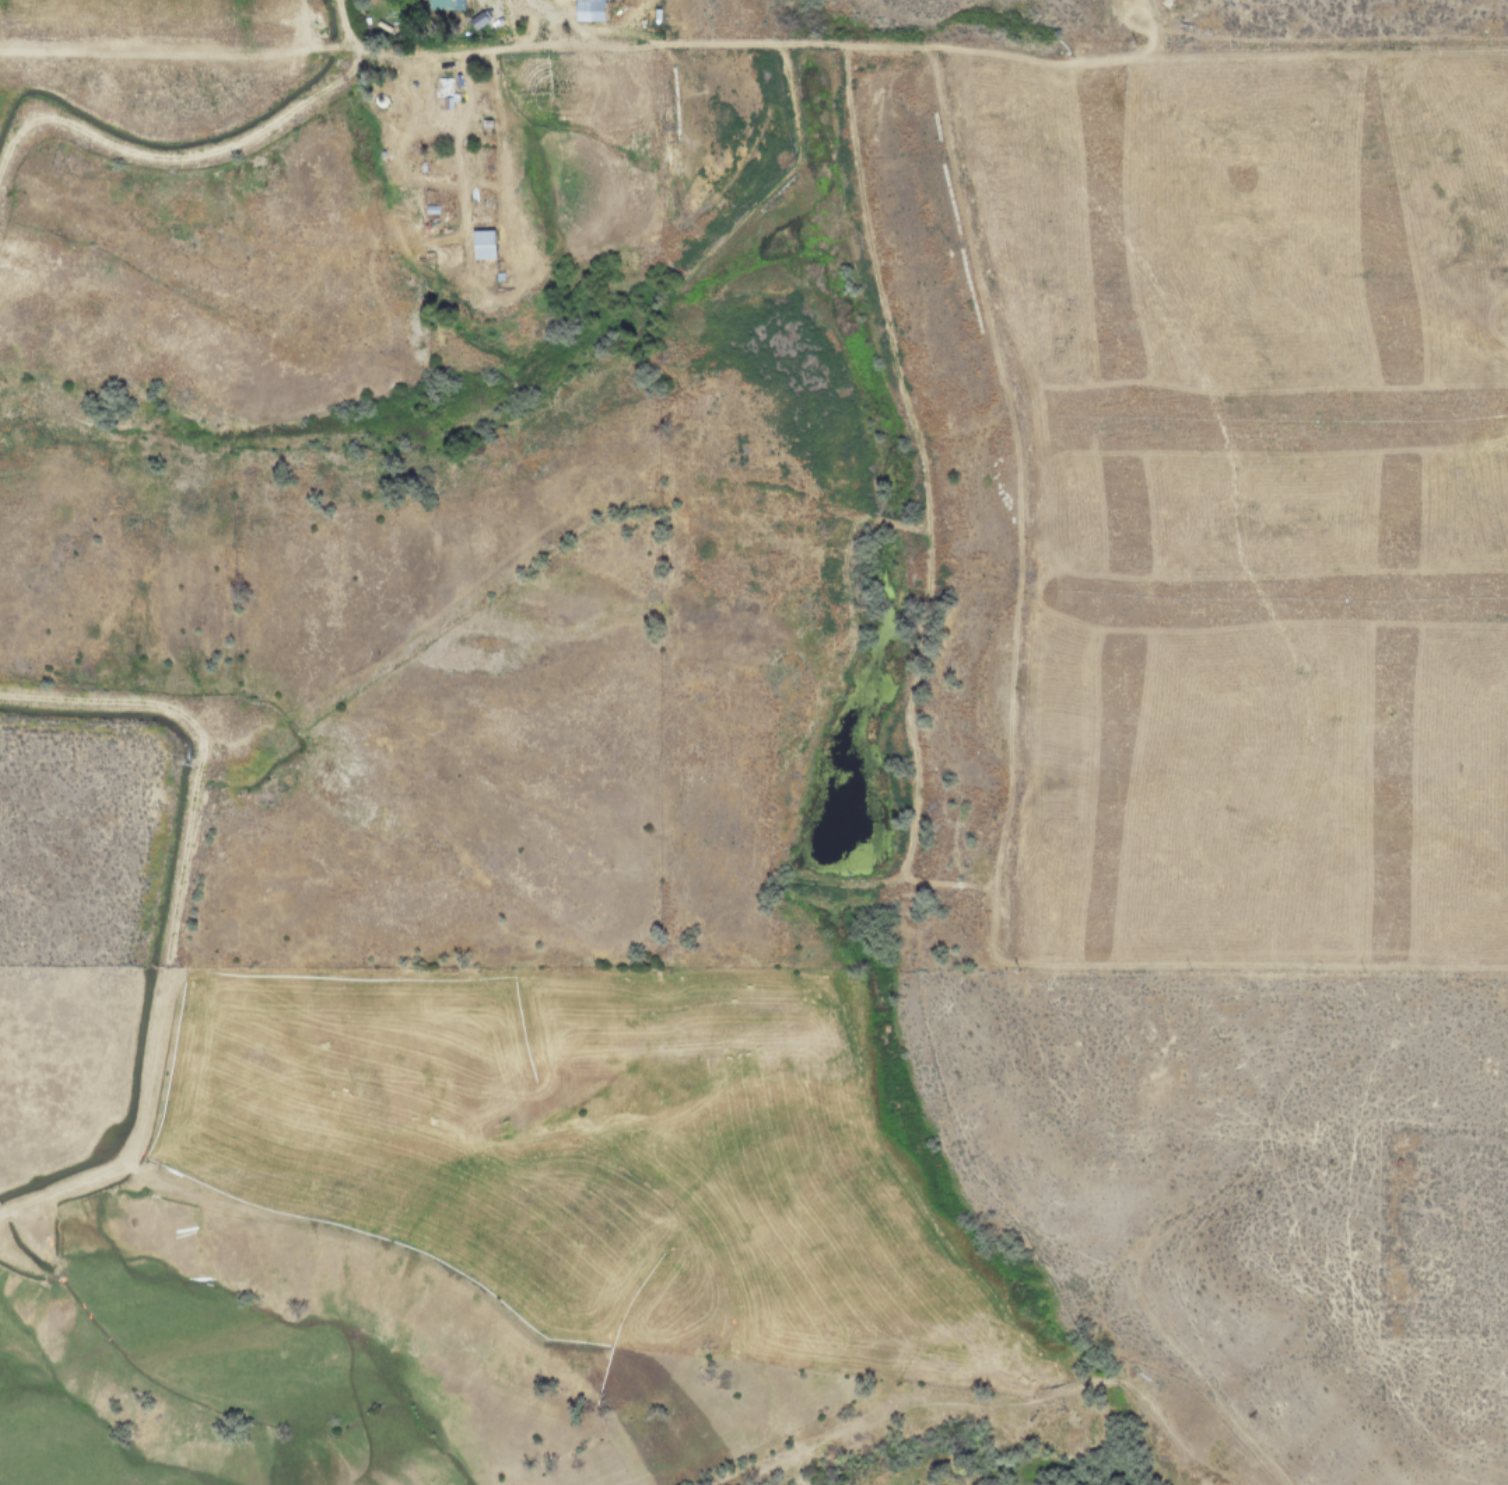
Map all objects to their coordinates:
building: (444, 3)
building: (589, 9)
building: (478, 20)
building: (443, 88)
building: (428, 228)
building: (482, 244)
building: (445, 256)

